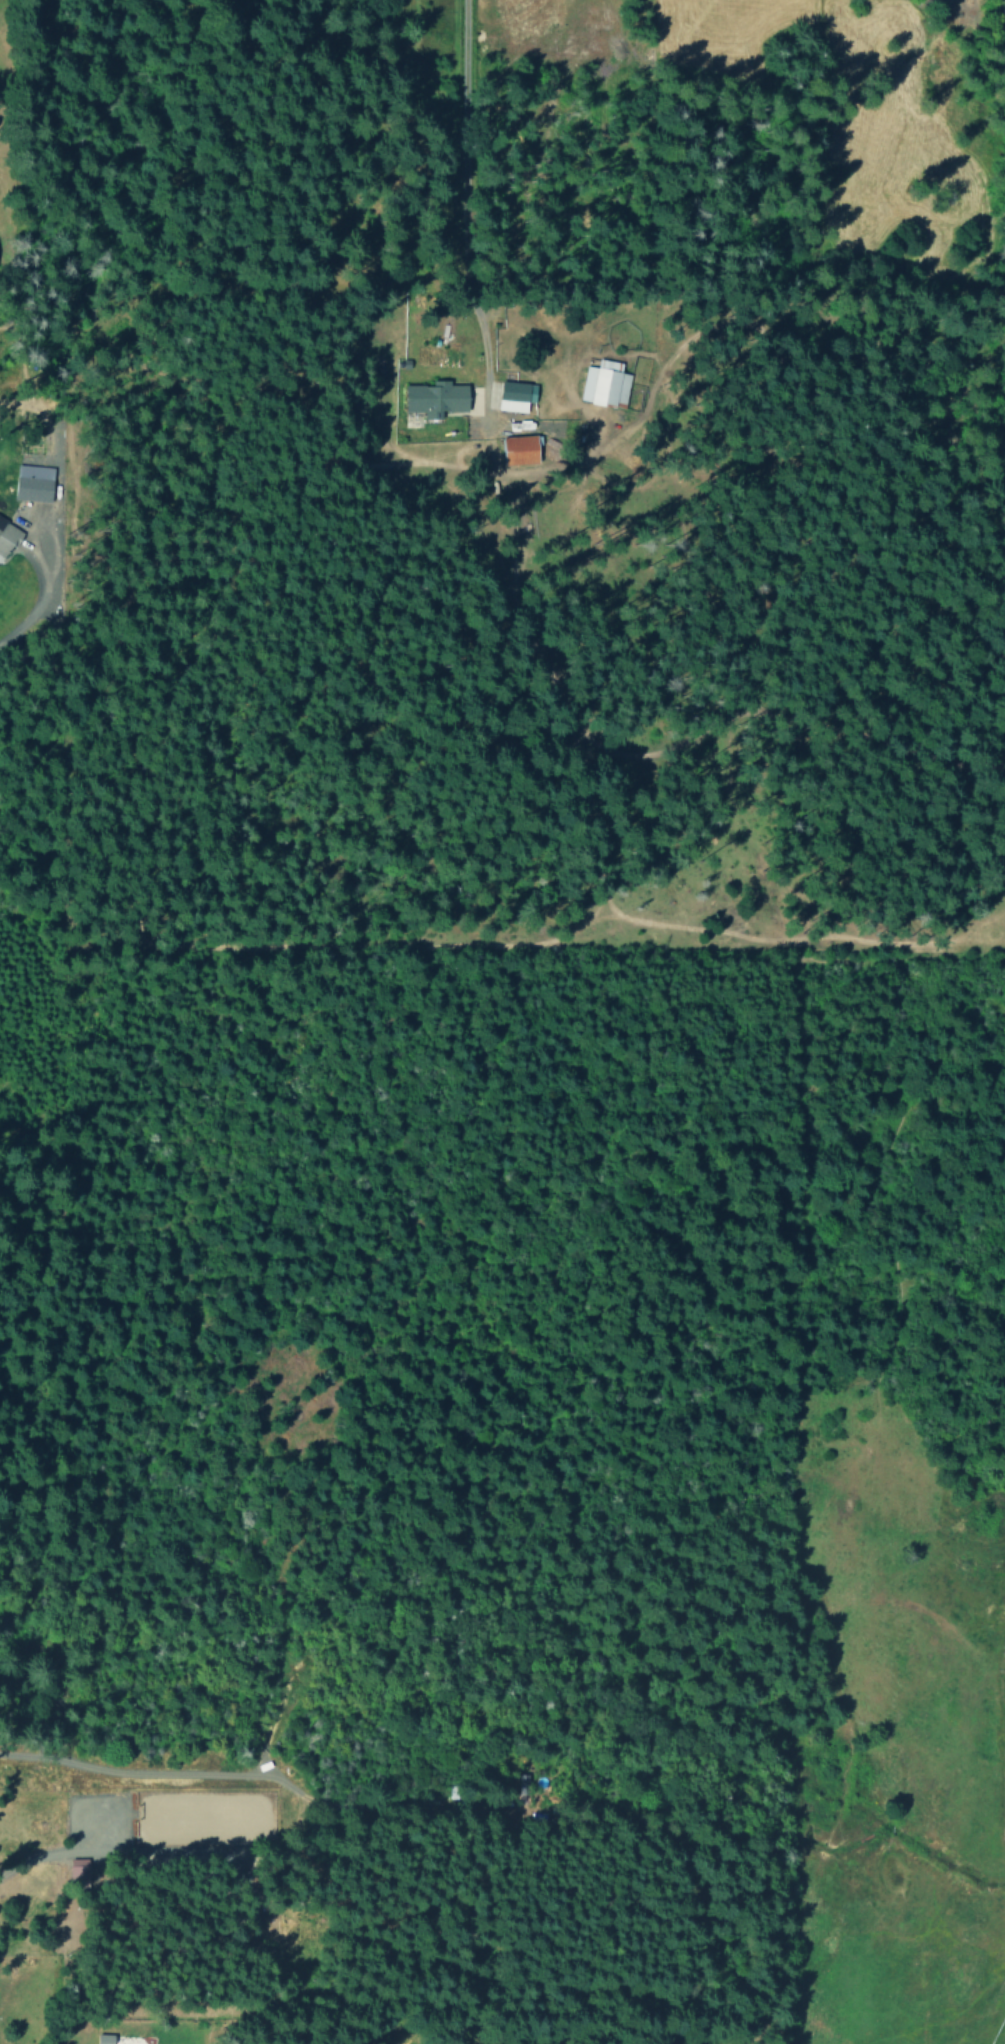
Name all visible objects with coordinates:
road: (455, 187)
building: (606, 383)
building: (515, 396)
building: (438, 397)
building: (522, 449)
building: (35, 482)
building: (8, 536)
road: (38, 554)
building: (79, 1869)
road: (1000, 2035)
building: (105, 2039)
road: (71, 2040)

